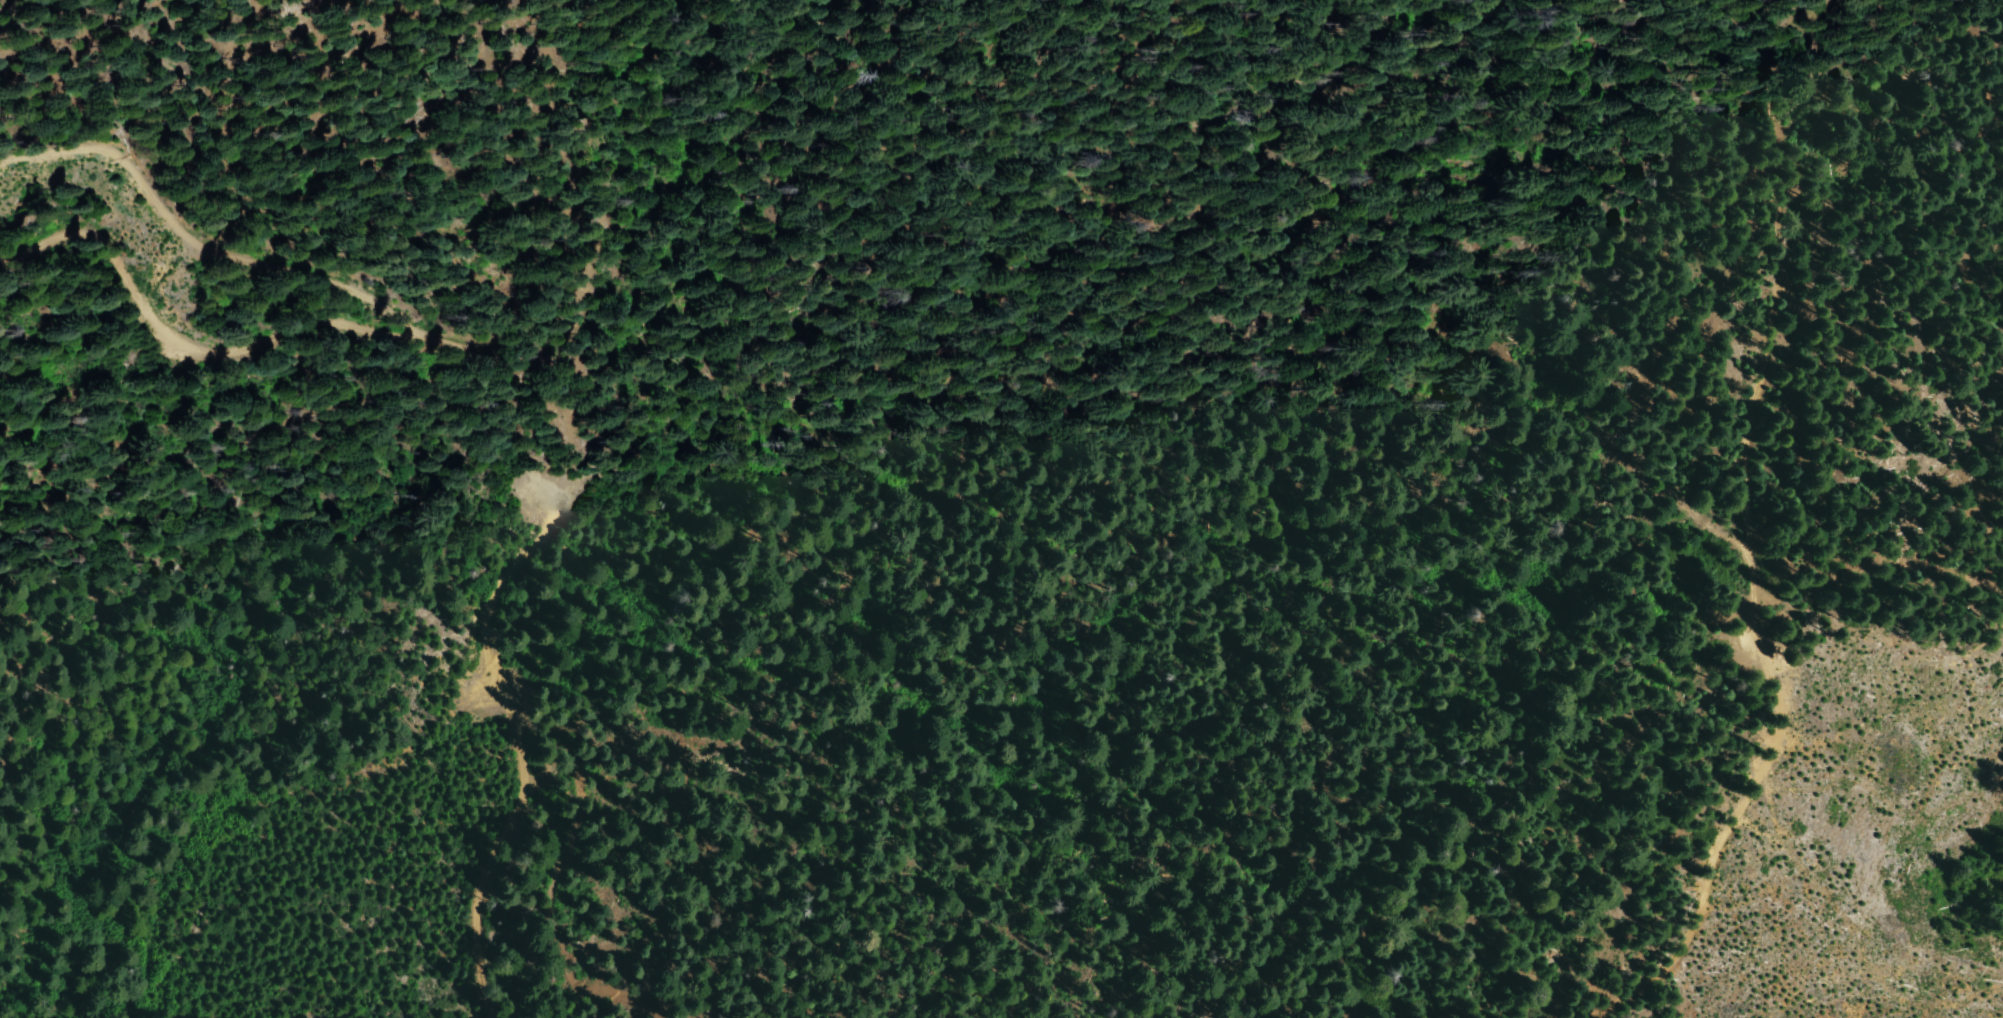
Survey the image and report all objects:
road: (1750, 323)
park: (1809, 328)
road: (1654, 481)
road: (1720, 843)

